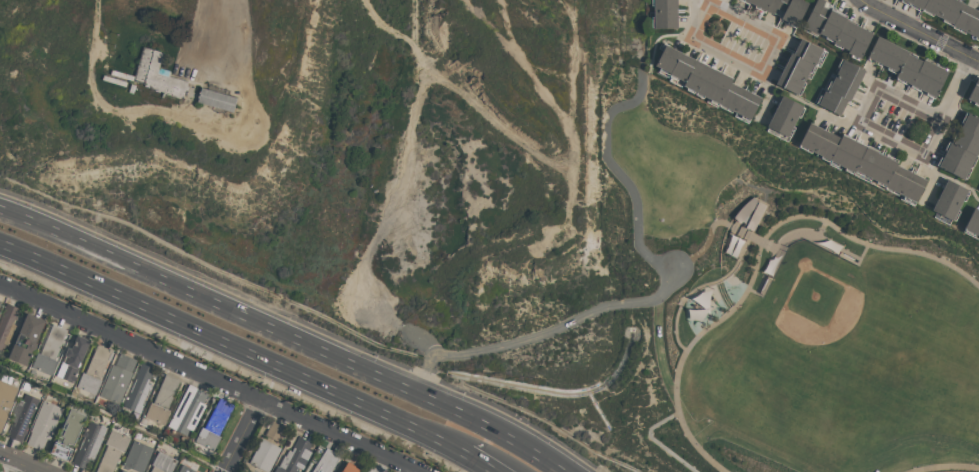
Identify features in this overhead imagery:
building: (784, 9)
building: (952, 13)
building: (665, 14)
road: (232, 28)
building: (838, 29)
road: (919, 31)
building: (799, 66)
building: (909, 66)
building: (154, 74)
road: (762, 75)
building: (113, 80)
building: (706, 80)
building: (841, 87)
road: (874, 89)
building: (974, 91)
building: (216, 99)
building: (784, 116)
building: (963, 147)
building: (864, 160)
road: (635, 196)
building: (950, 199)
building: (750, 215)
building: (973, 221)
road: (778, 223)
road: (740, 227)
road: (854, 239)
road: (766, 243)
road: (741, 254)
road: (927, 254)
building: (0, 301)
park: (816, 302)
park: (767, 304)
road: (722, 318)
building: (7, 323)
road: (286, 333)
building: (26, 338)
road: (234, 345)
park: (921, 349)
building: (49, 350)
building: (72, 358)
road: (231, 367)
building: (94, 369)
road: (211, 377)
building: (116, 378)
building: (138, 387)
building: (5, 399)
building: (161, 400)
building: (187, 409)
building: (21, 416)
building: (43, 424)
building: (213, 424)
building: (276, 432)
building: (67, 434)
road: (243, 436)
road: (657, 441)
building: (88, 443)
building: (111, 451)
building: (263, 454)
building: (137, 456)
building: (294, 456)
building: (326, 461)
road: (21, 462)
building: (162, 462)
road: (481, 462)
road: (943, 466)
road: (16, 467)
building: (348, 468)
building: (185, 469)
building: (372, 469)
building: (123, 471)

